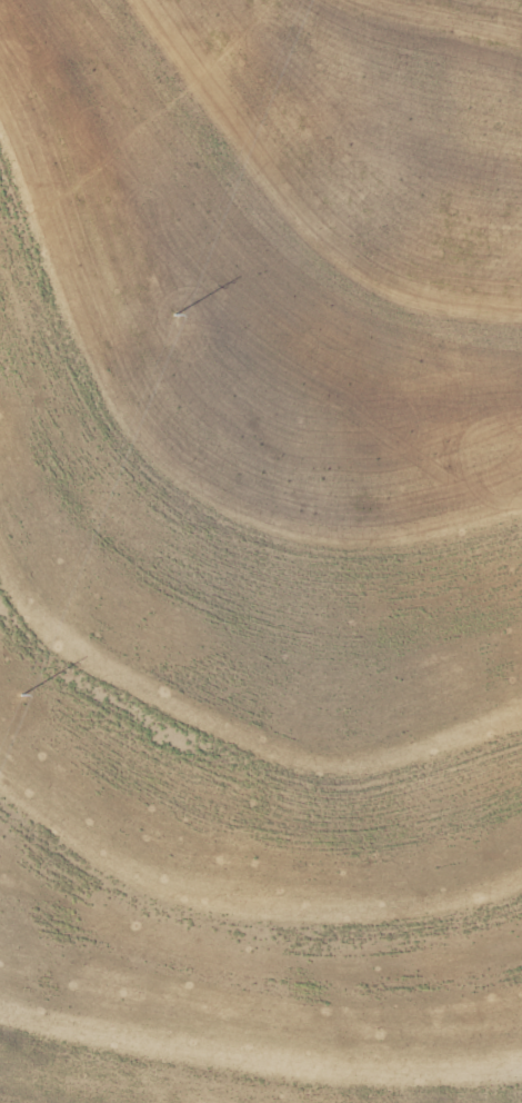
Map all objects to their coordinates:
power tower: (172, 319)
power tower: (19, 699)

